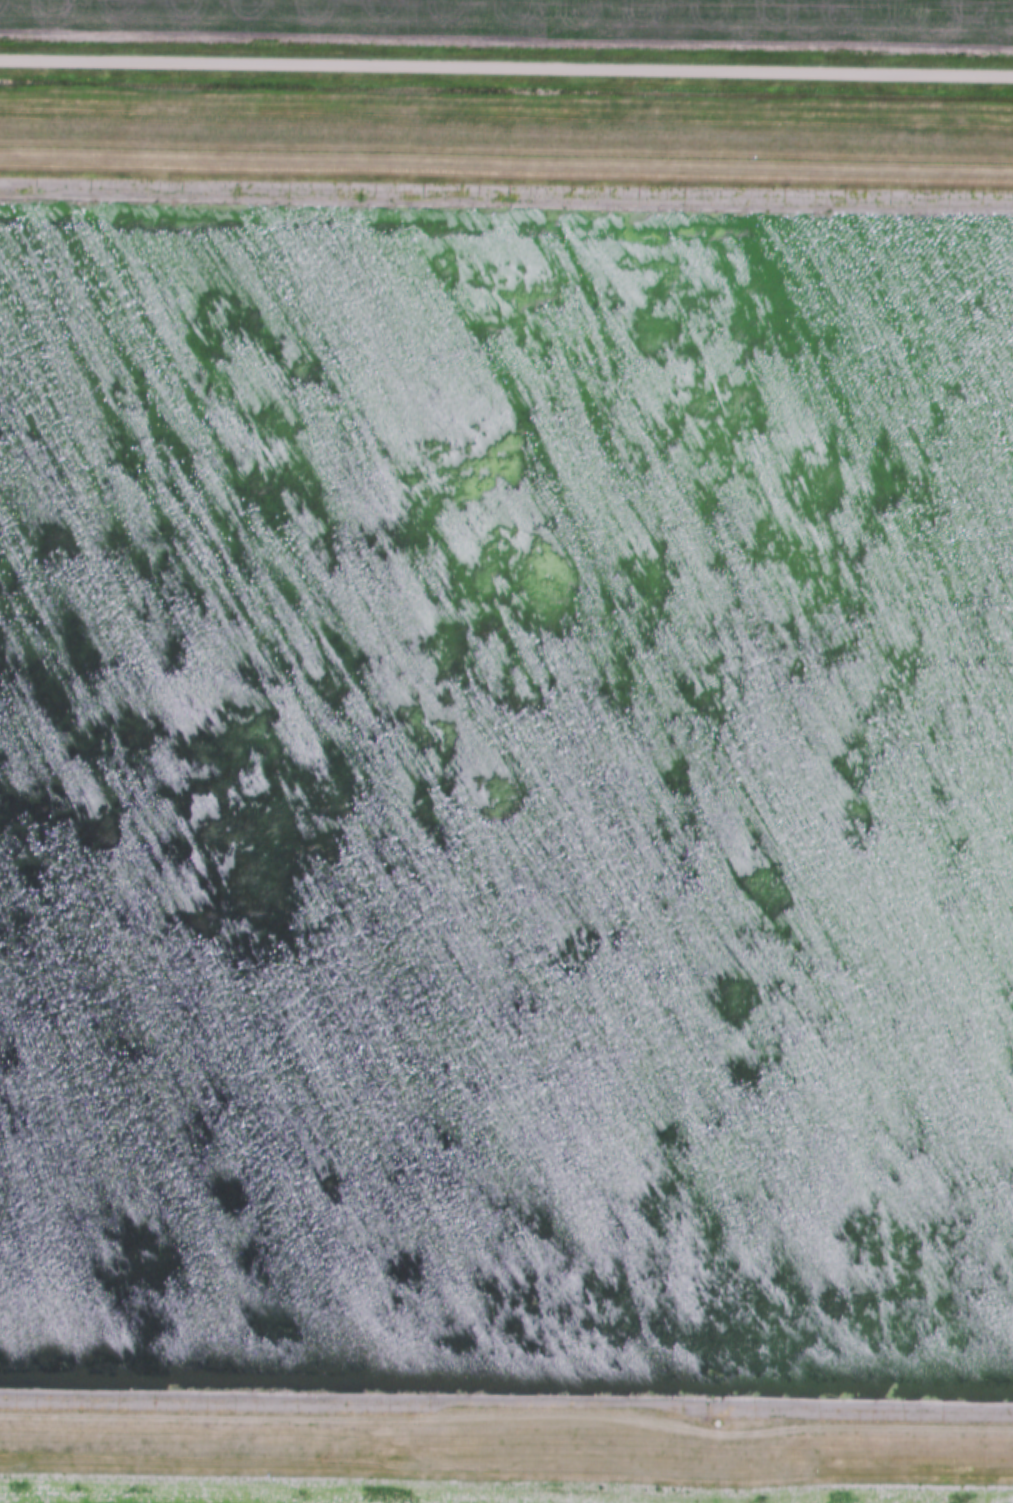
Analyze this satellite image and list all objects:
crop: (533, 20)
road: (506, 70)
wastewater plant: (505, 830)
road: (507, 1417)

